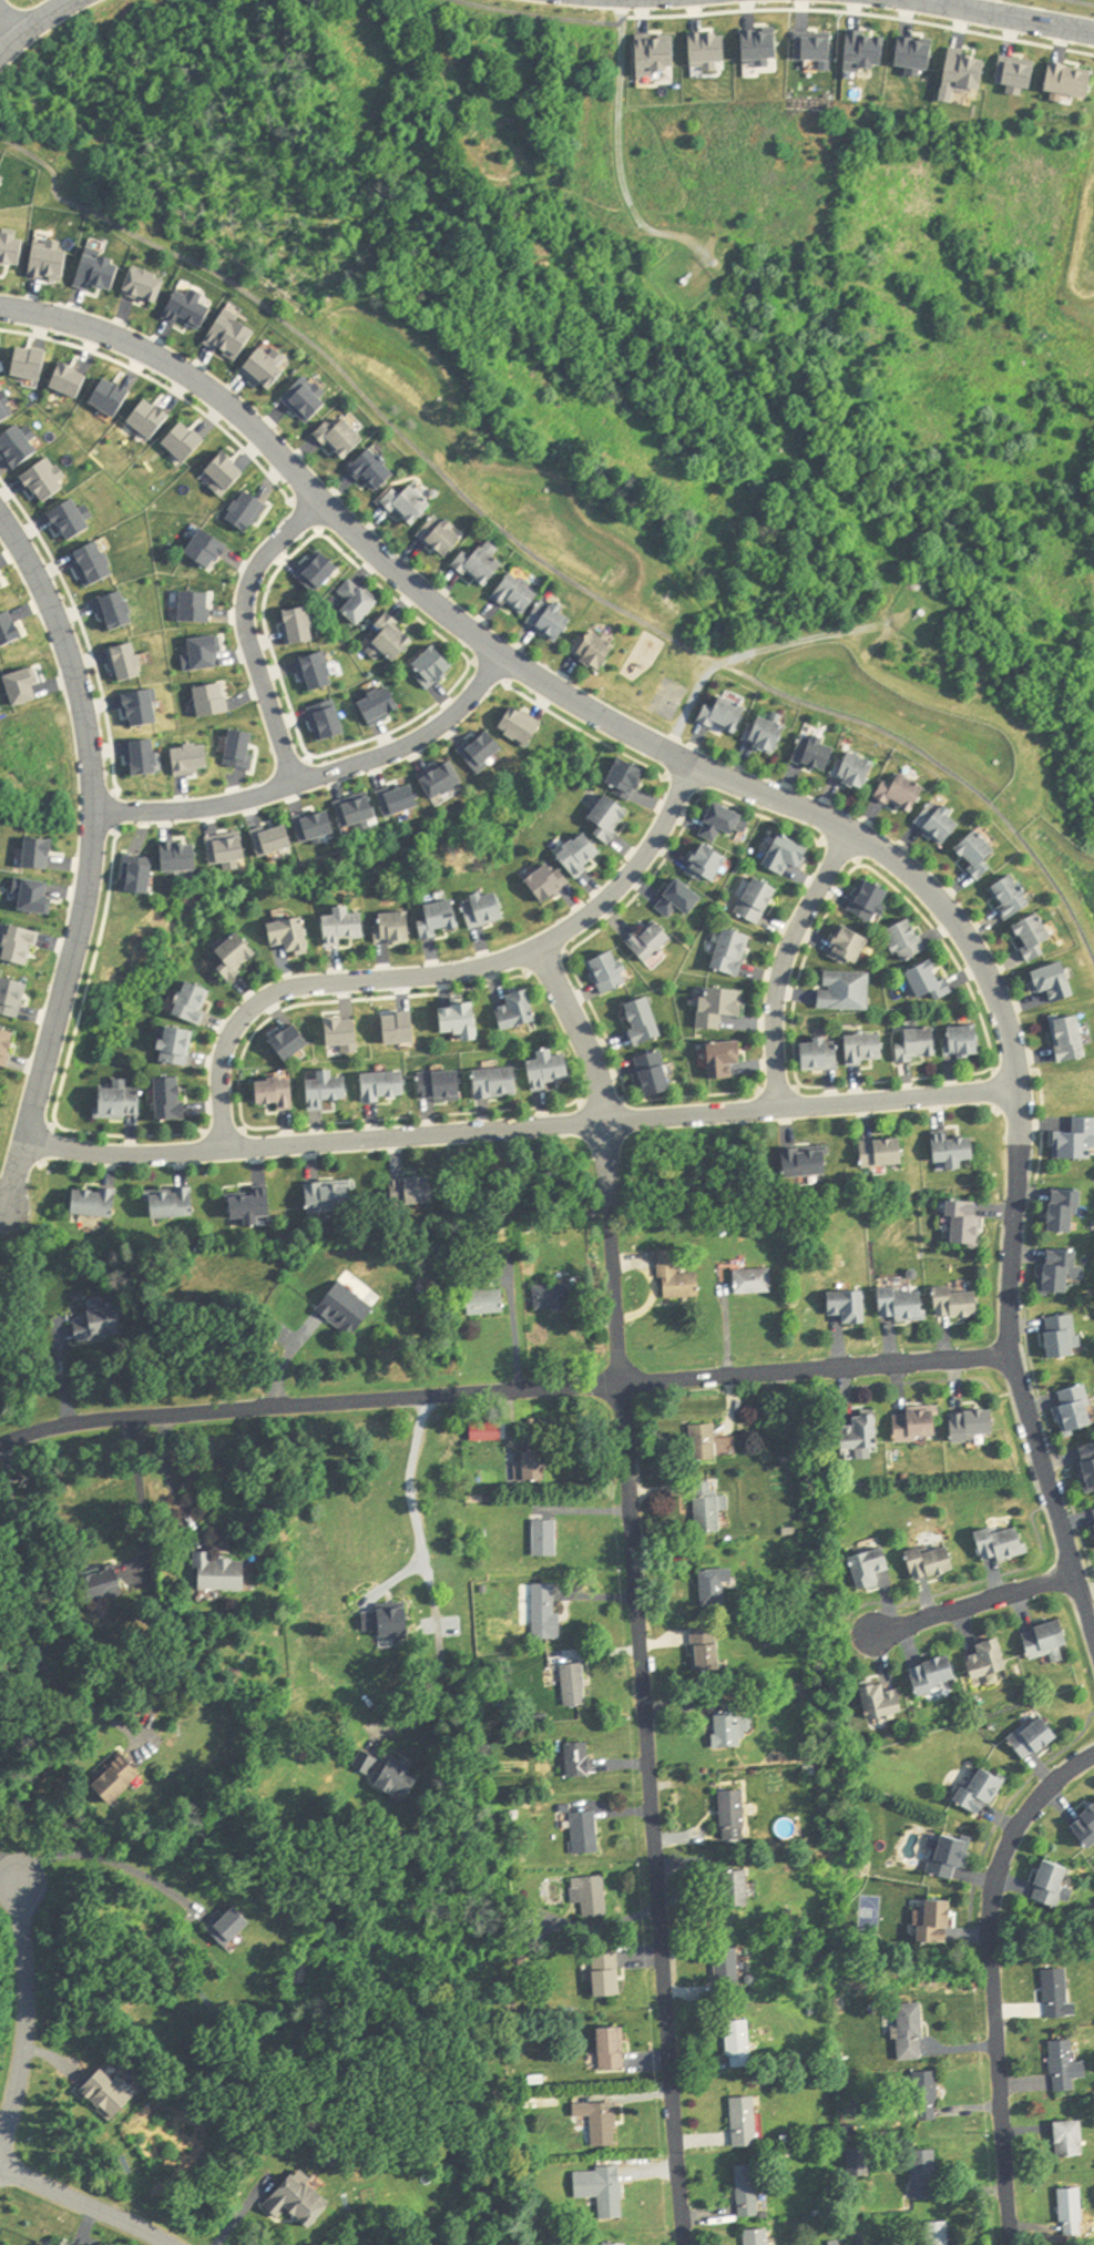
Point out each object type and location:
road: (1080, 2)
road: (861, 12)
road: (1009, 13)
road: (11, 16)
road: (33, 23)
building: (1072, 79)
building: (190, 308)
road: (163, 387)
building: (341, 440)
building: (375, 471)
building: (410, 506)
road: (306, 516)
building: (443, 537)
building: (481, 568)
building: (519, 595)
building: (358, 602)
building: (552, 621)
road: (82, 626)
road: (249, 634)
building: (391, 641)
building: (595, 651)
road: (756, 652)
building: (436, 666)
park: (663, 688)
building: (727, 715)
building: (768, 736)
road: (375, 737)
building: (817, 754)
building: (857, 771)
building: (627, 777)
road: (320, 778)
building: (900, 797)
road: (788, 804)
building: (611, 819)
building: (726, 824)
building: (941, 824)
road: (839, 851)
building: (787, 855)
building: (980, 855)
building: (582, 856)
road: (90, 857)
building: (710, 864)
building: (548, 885)
building: (1012, 898)
building: (681, 900)
building: (758, 902)
building: (870, 902)
building: (485, 911)
building: (442, 921)
building: (346, 928)
building: (395, 929)
road: (935, 932)
building: (292, 937)
building: (1036, 938)
road: (586, 939)
building: (908, 941)
building: (652, 942)
building: (852, 947)
building: (734, 953)
building: (236, 957)
road: (546, 963)
road: (785, 963)
building: (611, 972)
road: (443, 974)
building: (931, 982)
building: (1057, 983)
building: (847, 992)
building: (194, 1004)
building: (722, 1008)
building: (518, 1012)
building: (645, 1021)
building: (462, 1023)
building: (1072, 1038)
building: (967, 1042)
building: (920, 1047)
building: (178, 1048)
building: (867, 1050)
road: (71, 1053)
building: (821, 1055)
building: (726, 1059)
building: (550, 1071)
building: (654, 1075)
building: (498, 1084)
building: (386, 1086)
building: (442, 1086)
road: (779, 1089)
road: (995, 1090)
building: (328, 1091)
building: (278, 1094)
building: (172, 1100)
road: (605, 1102)
building: (122, 1103)
road: (241, 1106)
road: (225, 1132)
road: (520, 1135)
road: (48, 1142)
building: (1077, 1142)
building: (957, 1150)
building: (885, 1154)
building: (806, 1163)
building: (415, 1193)
building: (330, 1197)
building: (95, 1204)
building: (173, 1205)
building: (254, 1208)
building: (1067, 1213)
building: (967, 1225)
building: (1063, 1273)
building: (676, 1279)
building: (755, 1283)
building: (554, 1298)
building: (487, 1304)
building: (959, 1305)
building: (851, 1307)
building: (904, 1307)
building: (348, 1308)
building: (100, 1327)
building: (1063, 1338)
road: (504, 1392)
building: (1076, 1414)
building: (977, 1426)
building: (919, 1428)
building: (863, 1435)
building: (707, 1445)
building: (1087, 1466)
building: (531, 1469)
road: (167, 1480)
road: (137, 1493)
building: (709, 1508)
building: (545, 1540)
building: (1003, 1544)
building: (932, 1563)
building: (870, 1569)
building: (222, 1574)
road: (427, 1574)
building: (105, 1586)
building: (715, 1589)
road: (633, 1590)
road: (974, 1606)
road: (20, 1615)
building: (546, 1615)
building: (388, 1624)
building: (1049, 1643)
building: (706, 1652)
building: (988, 1662)
building: (934, 1676)
building: (575, 1687)
building: (883, 1703)
building: (728, 1732)
building: (1036, 1739)
building: (579, 1762)
building: (116, 1782)
building: (399, 1783)
building: (981, 1794)
building: (735, 1817)
building: (1086, 1830)
building: (585, 1835)
building: (951, 1859)
road: (108, 1861)
road: (9, 1869)
building: (1052, 1886)
building: (737, 1891)
building: (592, 1899)
building: (939, 1925)
building: (231, 1929)
building: (729, 1970)
building: (606, 1978)
road: (989, 1979)
building: (1059, 1994)
road: (24, 2012)
building: (912, 2033)
building: (739, 2047)
building: (612, 2051)
building: (1066, 2067)
building: (926, 2096)
building: (106, 2098)
building: (745, 2123)
building: (601, 2125)
road: (2, 2127)
building: (1071, 2139)
building: (924, 2169)
building: (748, 2191)
building: (603, 2192)
building: (298, 2204)
road: (89, 2205)
building: (1072, 2212)
building: (938, 2233)
building: (757, 2236)

